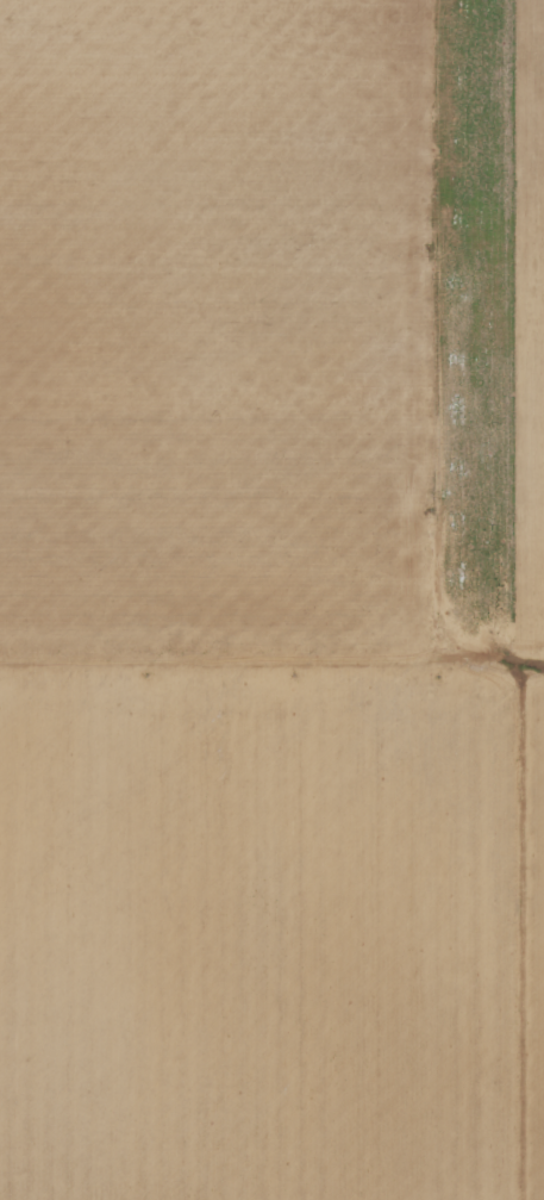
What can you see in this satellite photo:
road: (527, 670)

